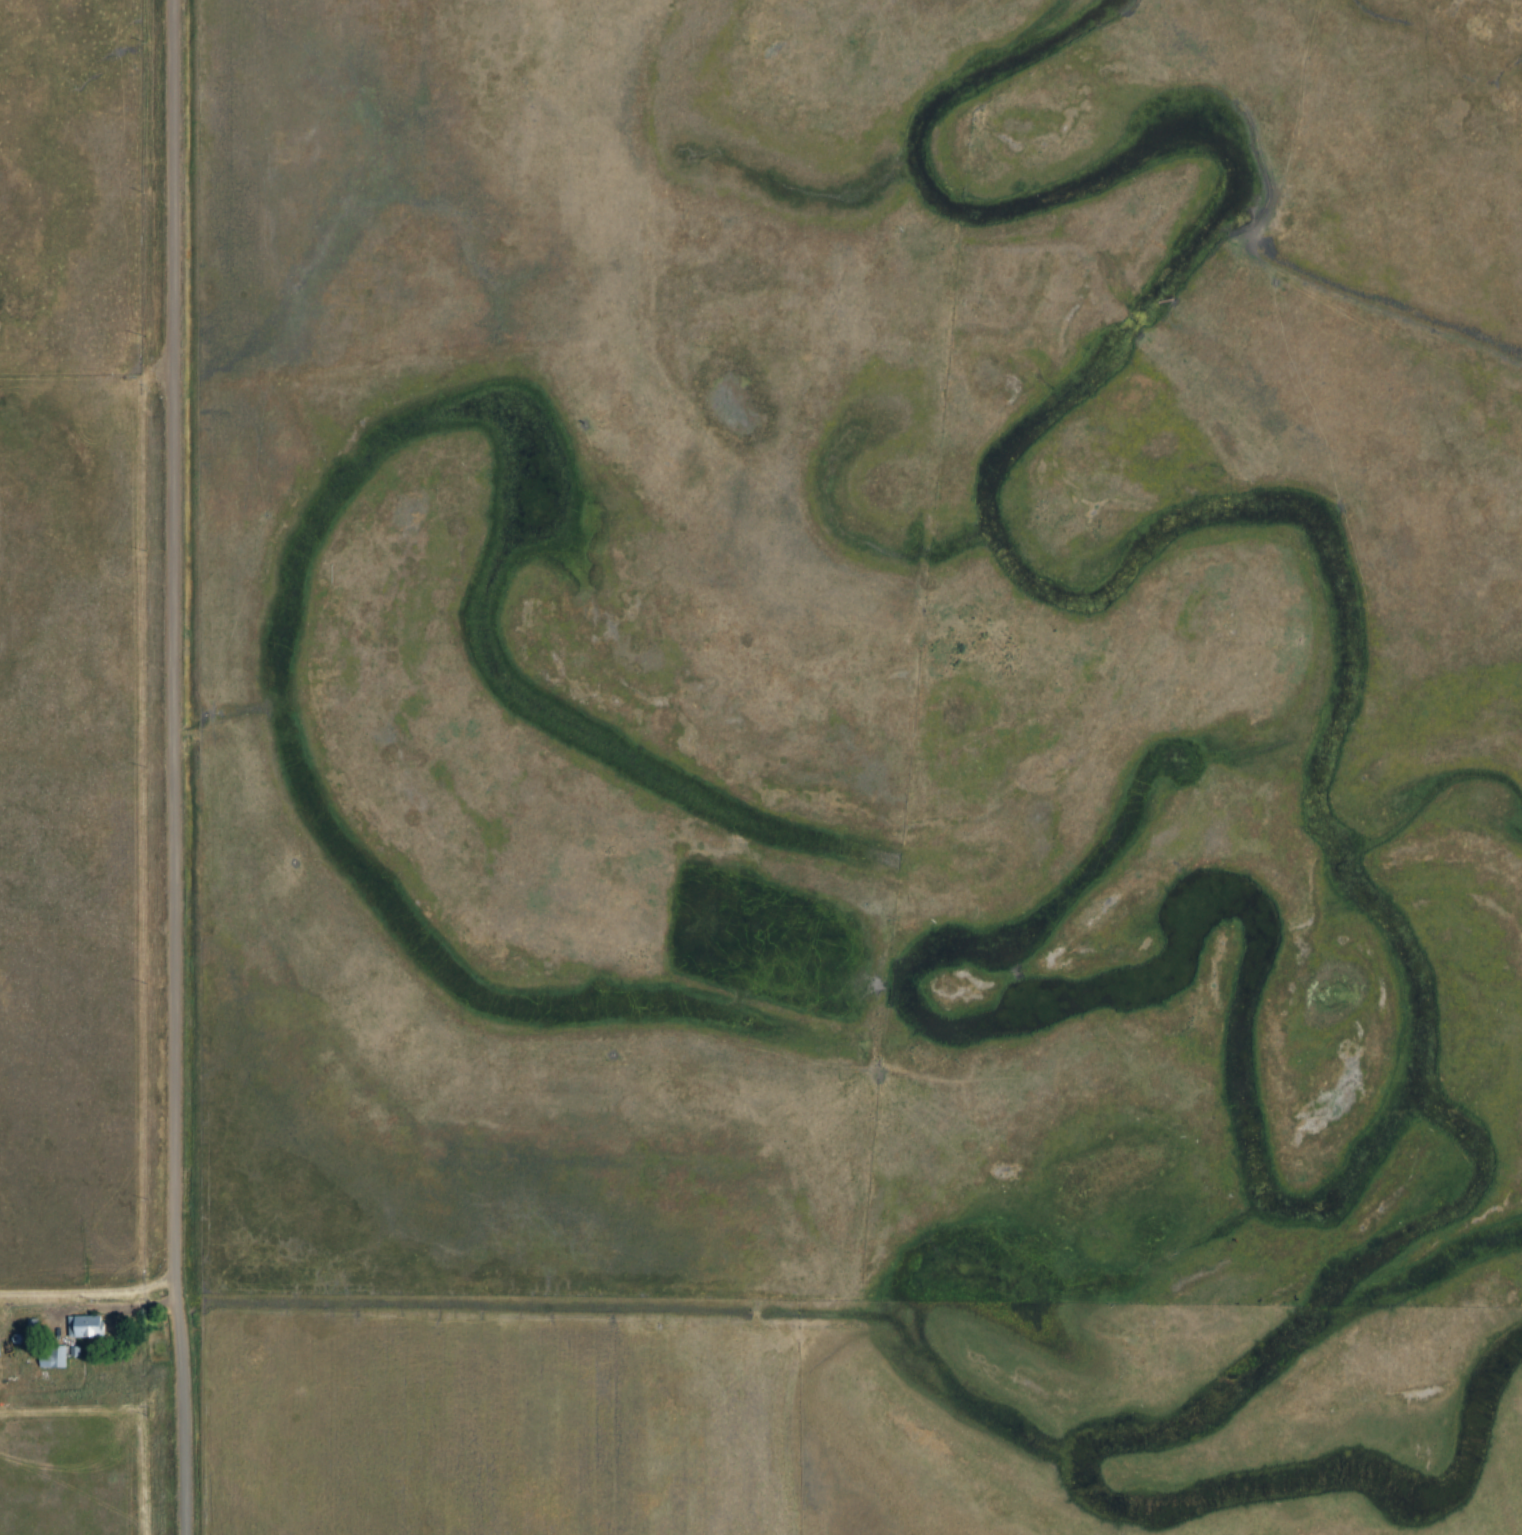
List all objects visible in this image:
road: (150, 383)
road: (182, 767)
crop: (67, 834)
road: (97, 1289)
road: (89, 1307)
building: (89, 1326)
building: (57, 1356)
crop: (505, 1424)
crop: (73, 1471)

